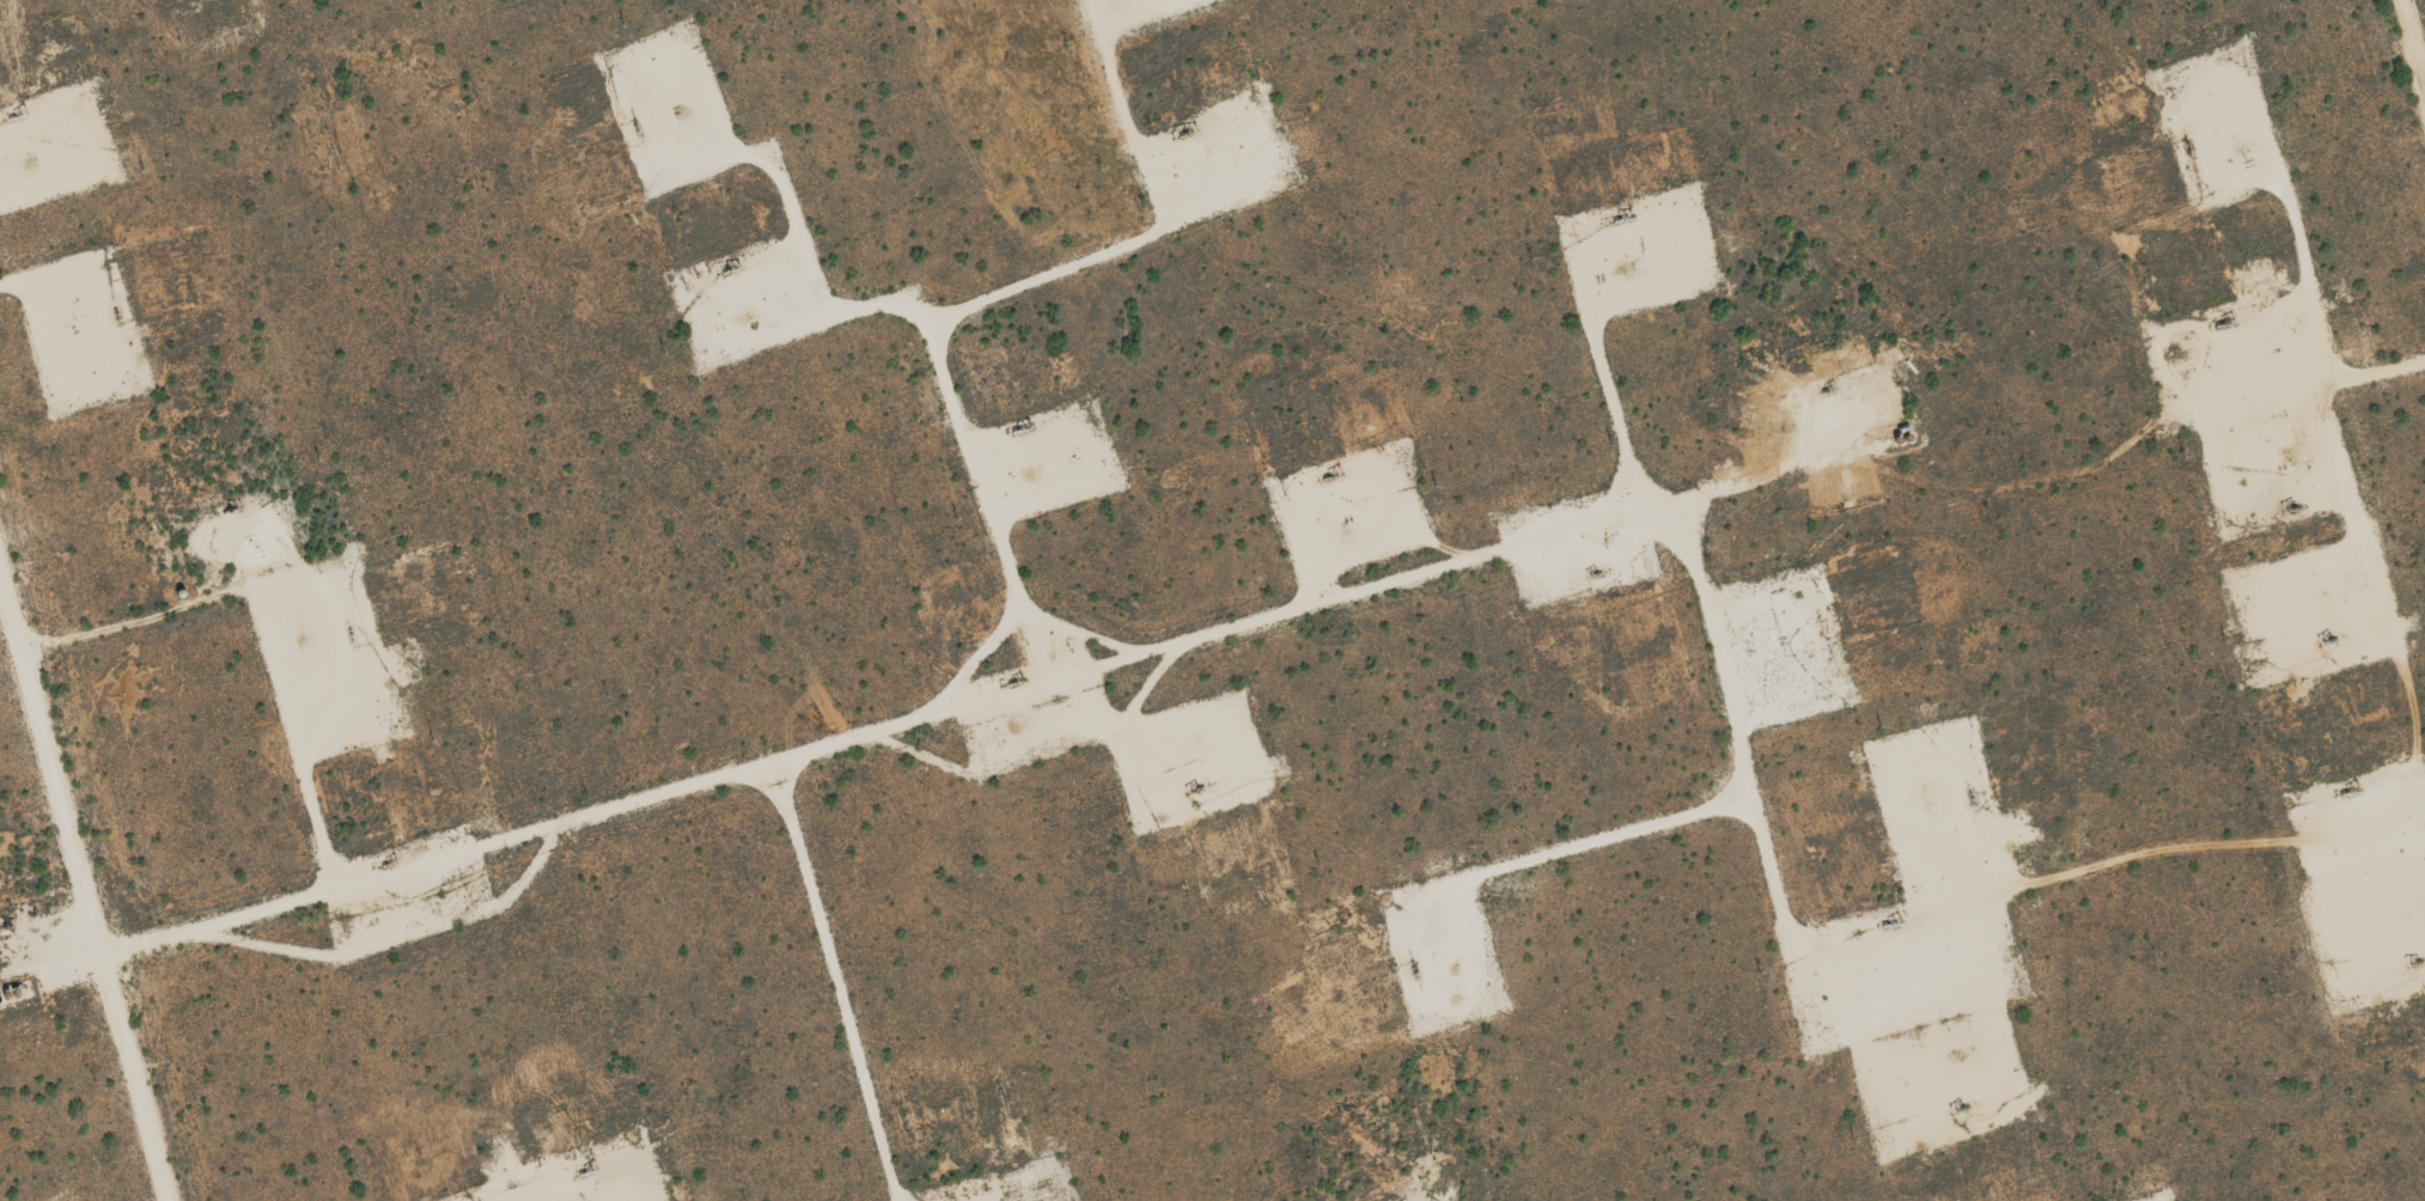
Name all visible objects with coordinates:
road: (2420, 16)
road: (80, 890)

